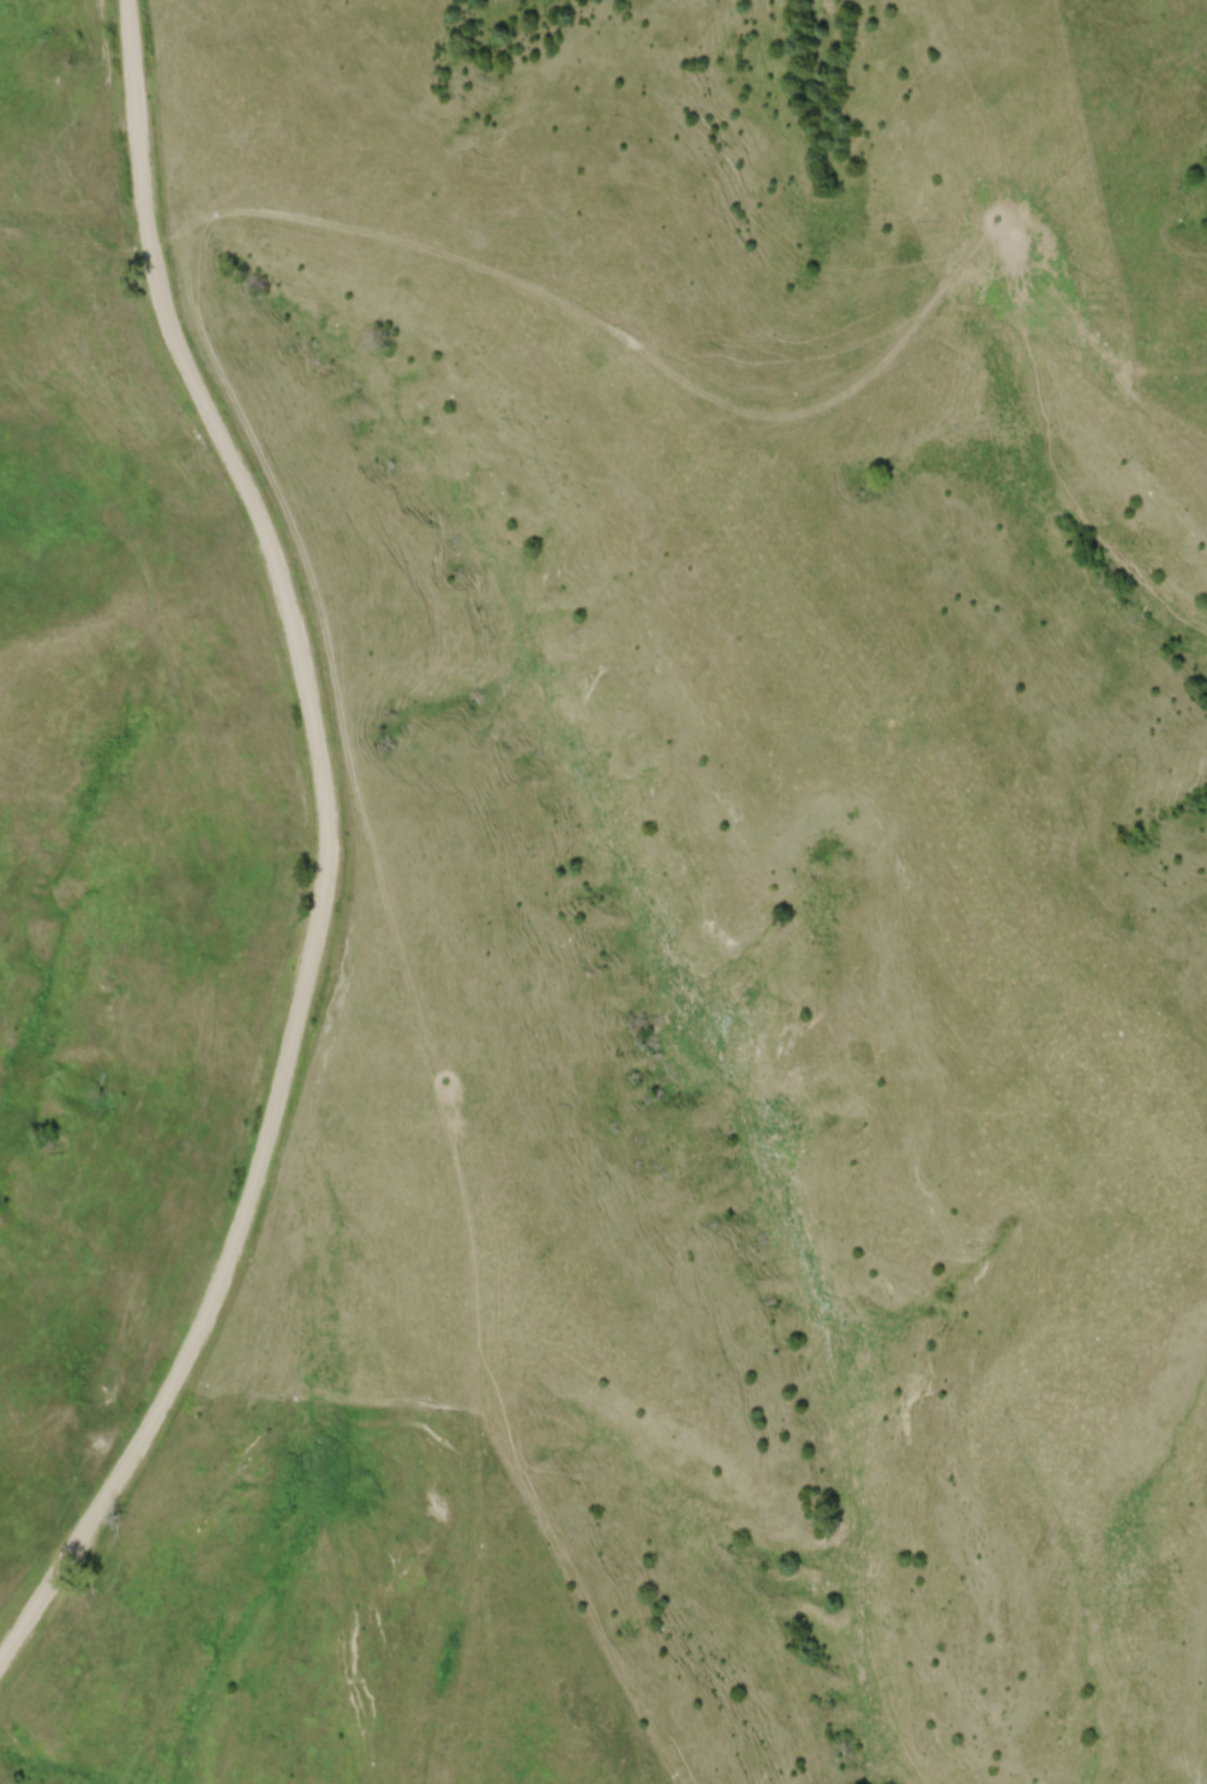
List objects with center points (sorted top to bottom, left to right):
road: (329, 851)

